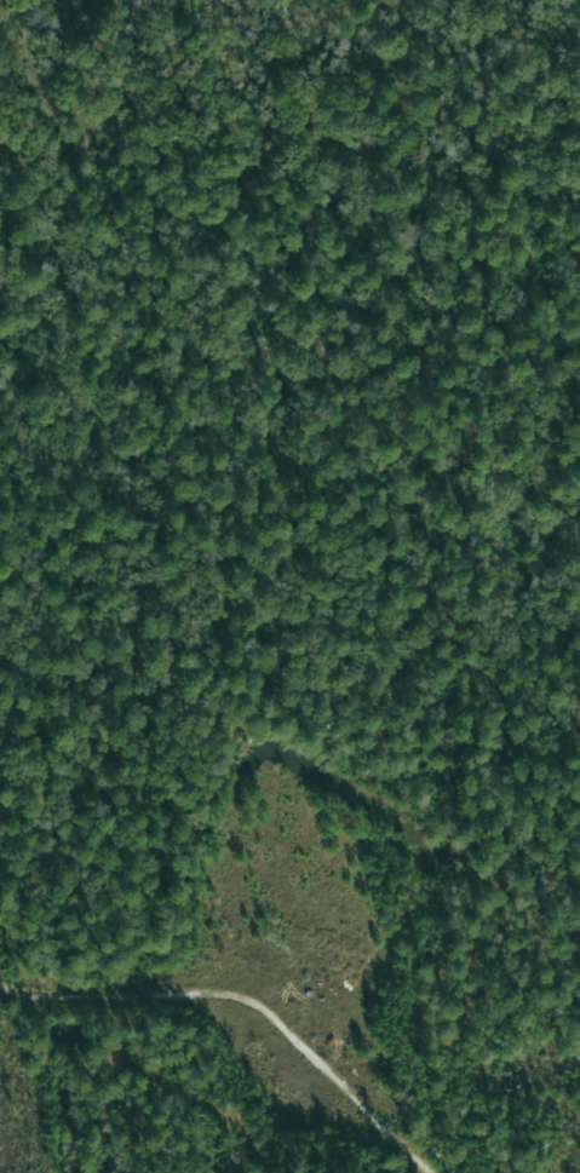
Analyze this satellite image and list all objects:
road: (248, 1001)

